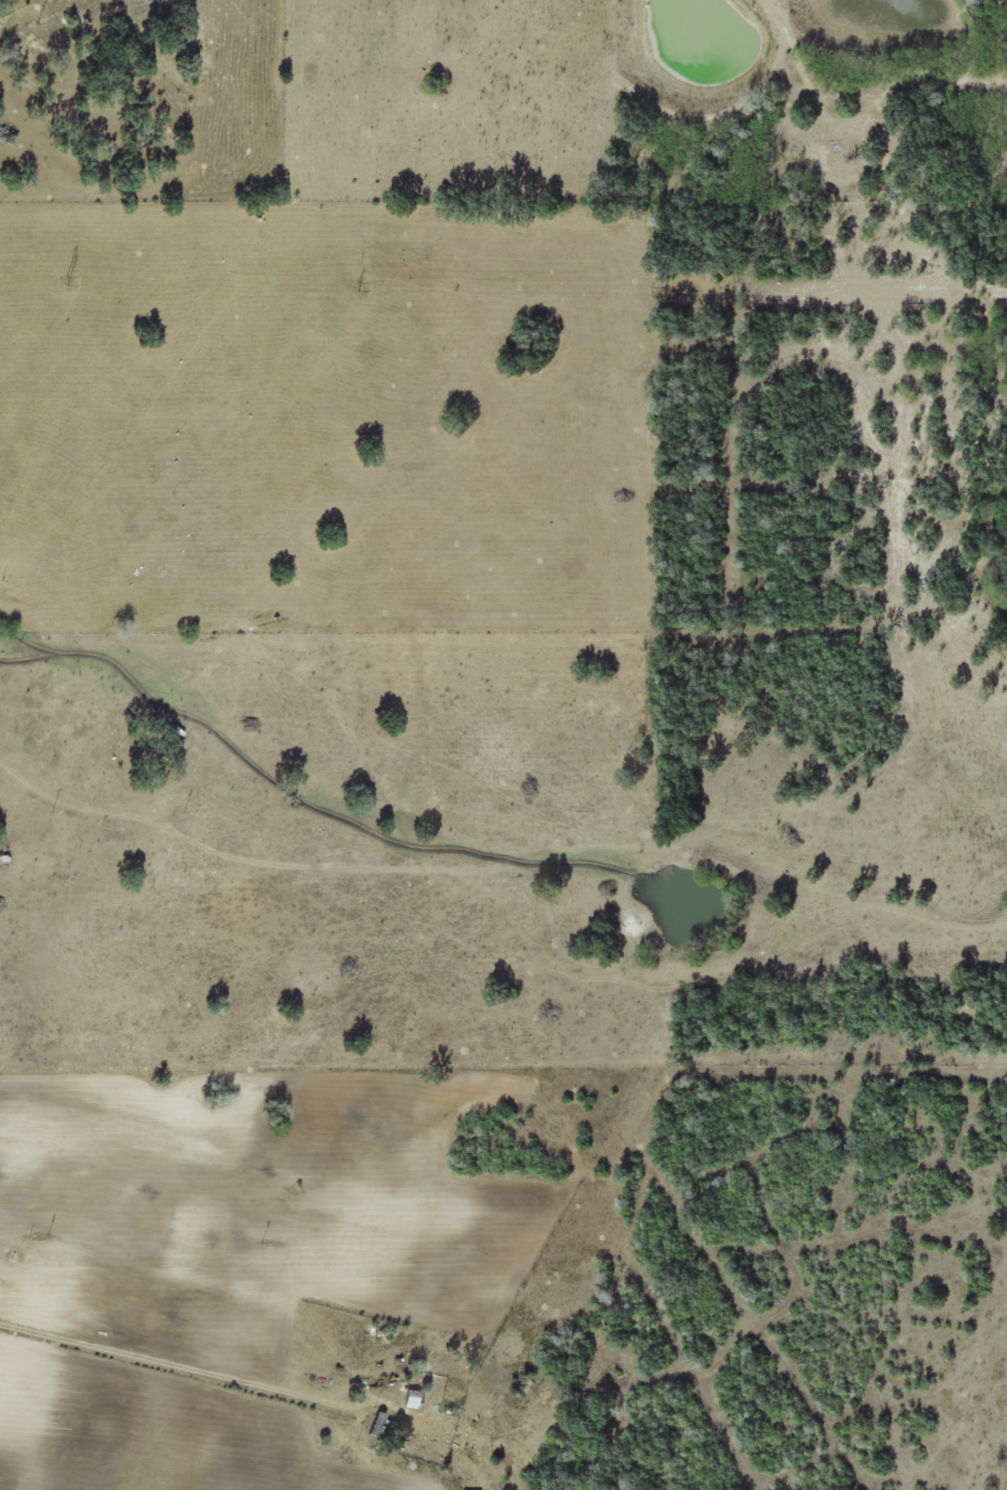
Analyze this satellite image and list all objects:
power tower: (68, 268)
power tower: (357, 274)
power tower: (669, 282)
building: (412, 1398)

